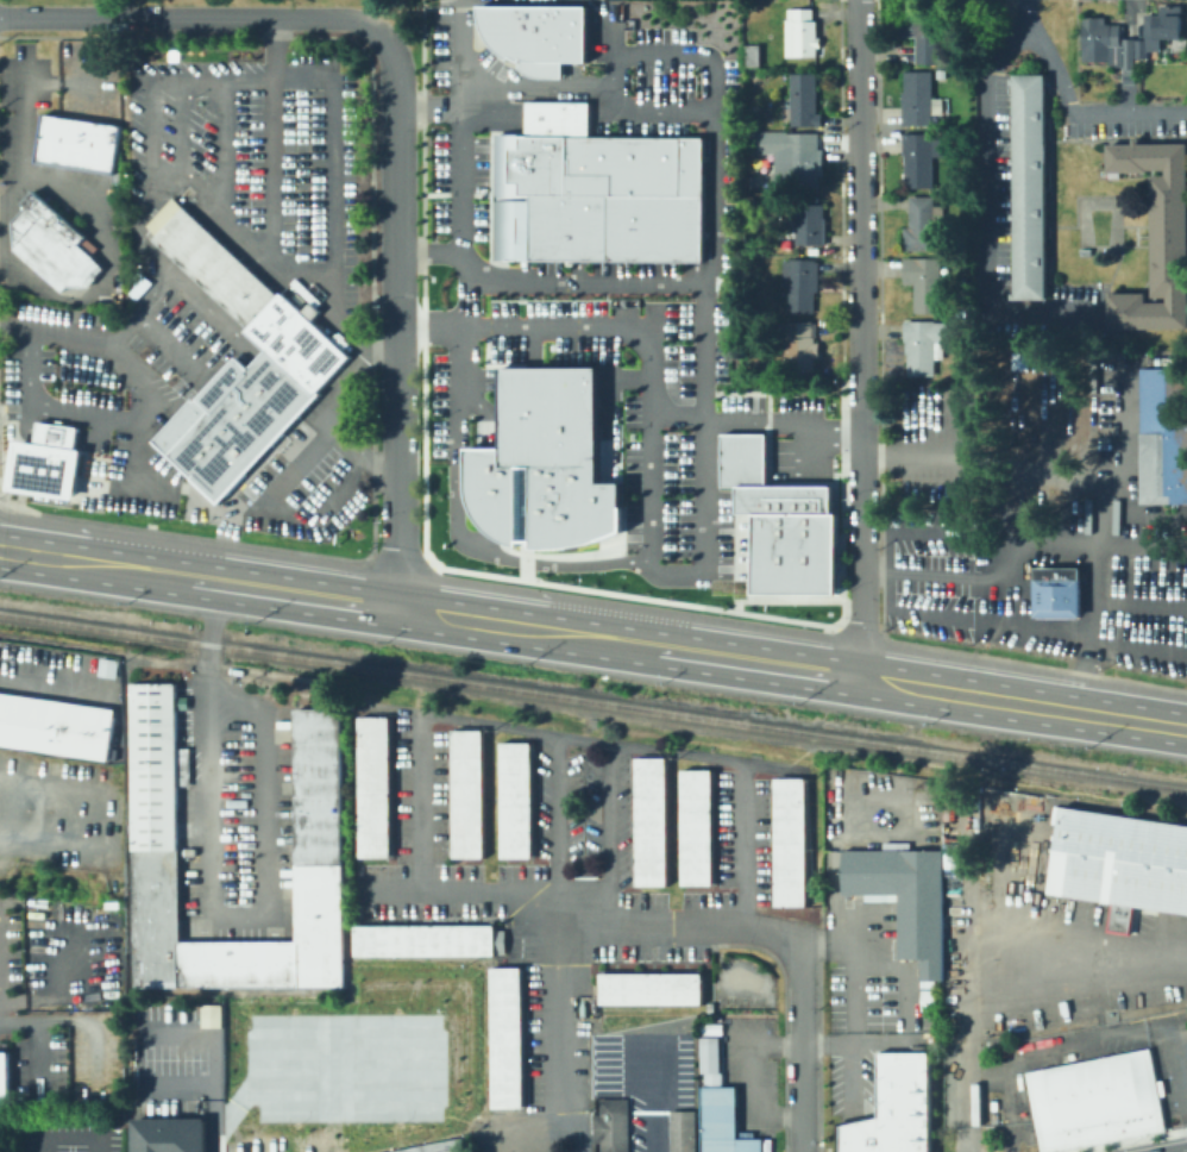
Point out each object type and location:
building: (630, 8)
road: (197, 15)
road: (469, 20)
building: (1160, 25)
building: (971, 29)
building: (802, 32)
building: (923, 35)
building: (554, 43)
building: (1110, 45)
building: (753, 56)
road: (695, 61)
building: (942, 74)
road: (310, 79)
road: (55, 81)
road: (542, 95)
building: (805, 100)
building: (919, 100)
road: (433, 107)
road: (1069, 107)
building: (753, 112)
road: (370, 117)
road: (24, 132)
road: (271, 142)
building: (76, 143)
road: (224, 144)
building: (921, 158)
building: (799, 161)
building: (755, 181)
building: (1030, 187)
building: (952, 188)
road: (991, 201)
building: (609, 204)
road: (216, 206)
building: (923, 224)
building: (809, 225)
building: (1158, 237)
road: (127, 244)
building: (54, 245)
building: (1086, 252)
building: (953, 253)
road: (720, 259)
road: (433, 261)
road: (108, 265)
road: (422, 278)
building: (925, 282)
building: (802, 284)
building: (136, 289)
road: (840, 313)
road: (878, 318)
road: (398, 325)
road: (55, 332)
road: (553, 332)
road: (859, 338)
building: (799, 344)
building: (925, 345)
road: (170, 348)
road: (383, 352)
building: (243, 364)
road: (27, 382)
road: (146, 383)
road: (64, 409)
road: (99, 420)
road: (685, 424)
road: (784, 424)
road: (55, 433)
building: (1163, 434)
road: (909, 449)
building: (45, 461)
building: (549, 467)
road: (463, 503)
road: (278, 513)
building: (781, 521)
road: (184, 534)
road: (1085, 540)
road: (147, 547)
road: (397, 553)
road: (1030, 561)
road: (108, 563)
road: (709, 577)
road: (962, 586)
building: (1054, 591)
road: (632, 594)
road: (1136, 616)
road: (1183, 618)
road: (912, 621)
road: (860, 633)
road: (651, 646)
road: (1034, 663)
building: (106, 666)
road: (89, 684)
railway: (593, 700)
road: (819, 720)
road: (1135, 720)
building: (54, 727)
road: (574, 738)
road: (49, 778)
building: (368, 789)
building: (461, 796)
building: (510, 801)
road: (420, 802)
road: (554, 821)
building: (645, 822)
building: (691, 829)
road: (605, 834)
building: (147, 838)
road: (52, 843)
building: (784, 843)
road: (741, 844)
building: (313, 847)
road: (835, 852)
building: (1118, 858)
road: (389, 890)
road: (490, 890)
road: (208, 894)
building: (904, 899)
building: (112, 903)
road: (998, 915)
road: (680, 925)
road: (1162, 933)
building: (417, 941)
building: (232, 966)
road: (1072, 973)
road: (54, 981)
building: (645, 990)
road: (904, 997)
road: (783, 1009)
road: (852, 1013)
building: (211, 1015)
road: (560, 1032)
road: (145, 1033)
road: (1103, 1034)
road: (422, 1037)
road: (1180, 1038)
road: (36, 1039)
building: (501, 1040)
road: (737, 1045)
road: (818, 1047)
road: (800, 1050)
building: (710, 1062)
parking lot: (345, 1068)
building: (2, 1077)
road: (748, 1078)
road: (849, 1079)
road: (963, 1079)
road: (652, 1094)
building: (1094, 1100)
building: (894, 1108)
road: (215, 1117)
building: (716, 1122)
building: (610, 1125)
road: (1012, 1127)
road: (536, 1131)
building: (679, 1132)
building: (167, 1134)
road: (1120, 1139)
road: (67, 1142)
building: (441, 1147)

